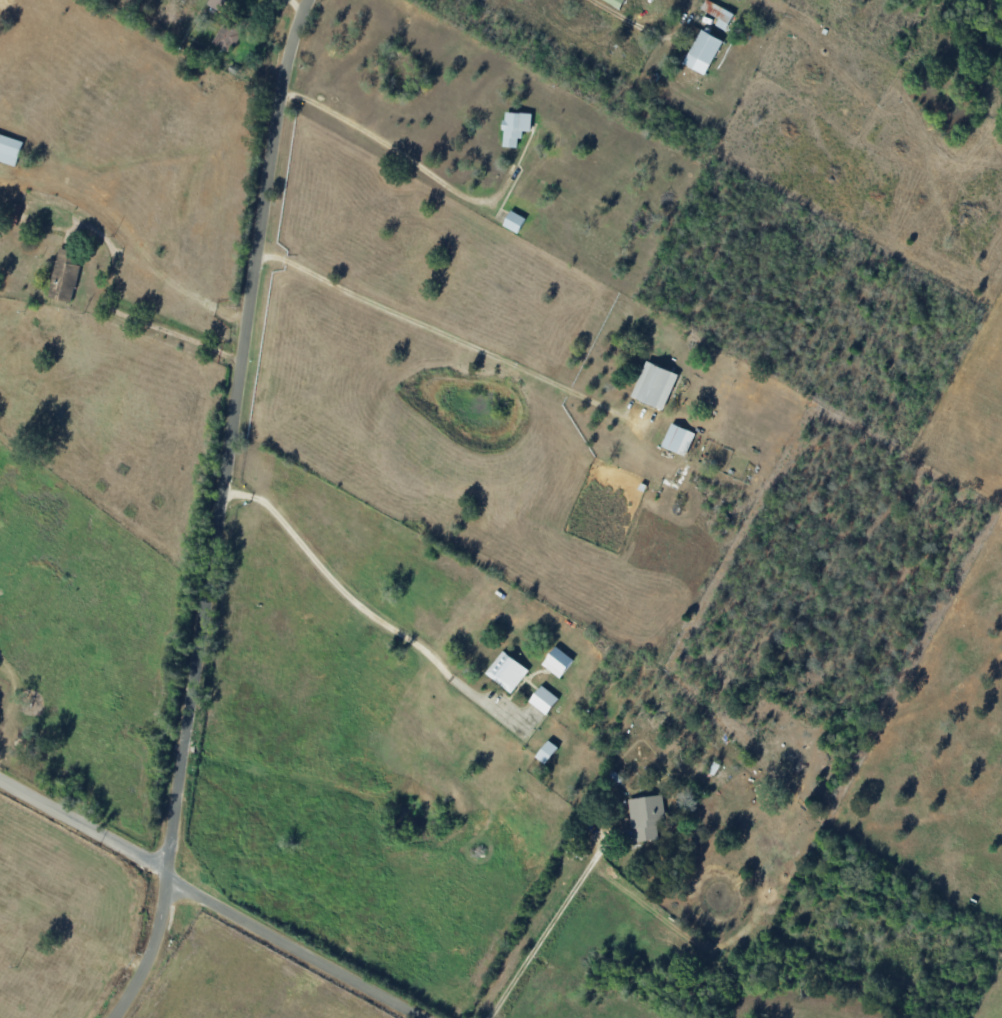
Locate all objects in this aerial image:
building: (614, 2)
building: (215, 3)
building: (717, 13)
road: (644, 23)
building: (229, 32)
building: (702, 52)
building: (515, 127)
road: (389, 140)
building: (9, 150)
building: (513, 222)
building: (65, 275)
road: (180, 284)
road: (118, 310)
road: (447, 329)
building: (654, 385)
building: (678, 439)
road: (220, 512)
road: (363, 599)
building: (557, 661)
building: (507, 671)
building: (543, 699)
building: (546, 751)
building: (647, 816)
road: (203, 896)
road: (556, 929)

